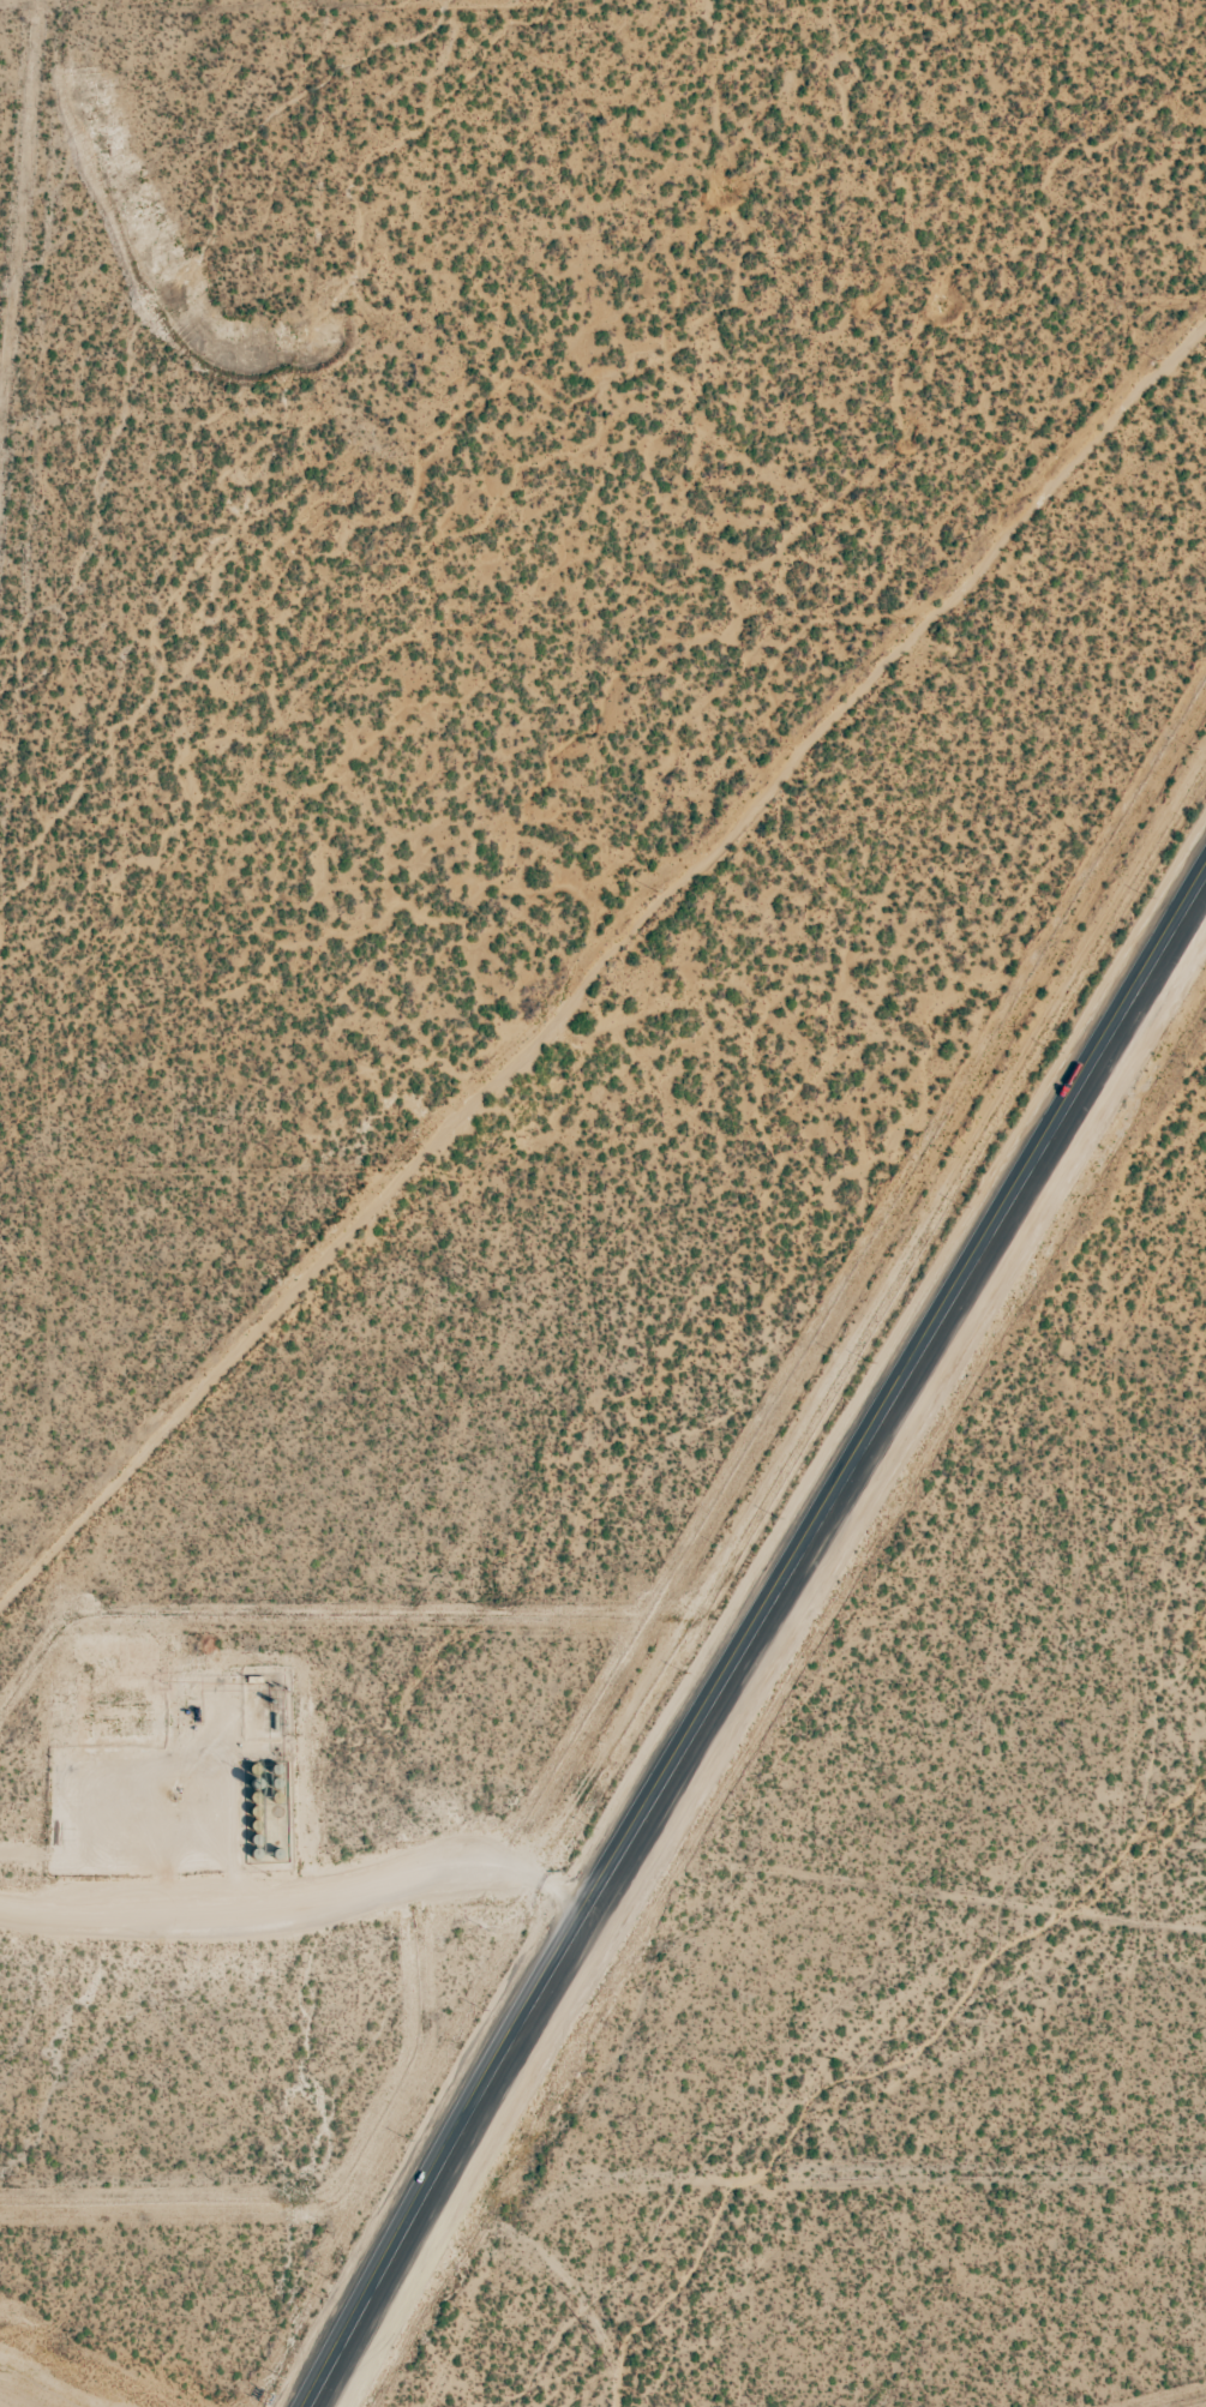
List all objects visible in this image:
road: (751, 1639)
road: (308, 1860)
road: (470, 2232)

